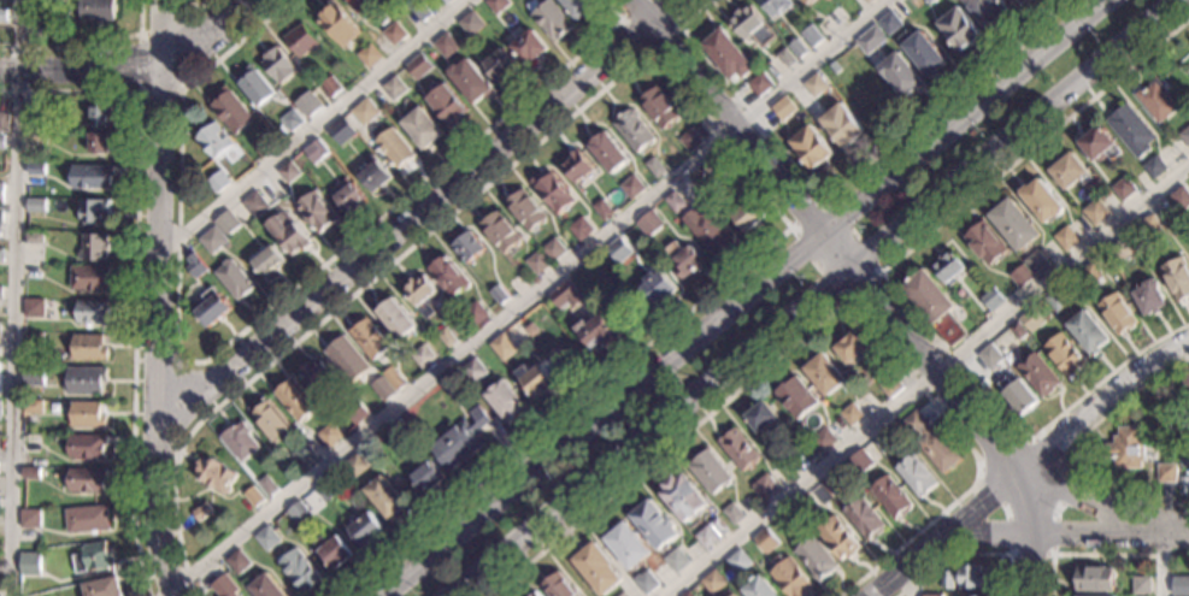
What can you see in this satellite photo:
building: (929, 0)
building: (1012, 0)
building: (446, 1)
building: (806, 1)
building: (869, 1)
building: (496, 5)
building: (773, 5)
building: (365, 6)
building: (578, 6)
road: (199, 7)
building: (96, 10)
building: (987, 10)
building: (36, 11)
building: (420, 11)
building: (2, 14)
building: (836, 17)
building: (549, 18)
building: (889, 22)
building: (339, 23)
building: (471, 23)
building: (959, 28)
building: (755, 30)
building: (393, 33)
building: (811, 35)
building: (300, 40)
building: (870, 40)
building: (445, 45)
road: (87, 46)
building: (529, 46)
building: (797, 48)
building: (852, 52)
building: (923, 52)
road: (646, 53)
building: (369, 55)
building: (728, 55)
building: (787, 58)
building: (277, 65)
building: (418, 65)
building: (499, 66)
road: (133, 69)
road: (659, 69)
road: (181, 70)
building: (901, 73)
building: (470, 81)
building: (760, 83)
building: (814, 84)
building: (254, 87)
building: (331, 87)
building: (394, 88)
building: (1156, 101)
building: (446, 102)
building: (659, 106)
building: (305, 107)
building: (783, 108)
building: (230, 111)
building: (364, 111)
building: (100, 113)
road: (726, 117)
building: (30, 119)
building: (292, 119)
building: (4, 123)
building: (842, 125)
road: (318, 126)
building: (422, 129)
building: (634, 130)
building: (341, 131)
building: (1131, 131)
building: (36, 136)
building: (1185, 136)
building: (213, 140)
building: (690, 140)
building: (1, 141)
building: (99, 143)
building: (261, 144)
building: (1099, 144)
building: (812, 146)
building: (394, 147)
building: (314, 151)
building: (608, 152)
building: (711, 164)
building: (654, 166)
building: (1154, 166)
building: (576, 167)
building: (36, 169)
building: (1070, 171)
building: (288, 172)
building: (372, 172)
building: (92, 176)
building: (217, 182)
building: (631, 187)
road: (838, 189)
building: (1123, 189)
building: (1, 191)
building: (552, 191)
building: (346, 195)
building: (1178, 200)
building: (257, 201)
building: (673, 201)
building: (1042, 201)
building: (35, 205)
road: (418, 208)
building: (525, 210)
building: (602, 210)
building: (93, 211)
building: (316, 212)
building: (1096, 212)
building: (749, 214)
building: (1, 217)
building: (226, 223)
building: (648, 223)
building: (1014, 224)
building: (1150, 226)
building: (579, 228)
building: (706, 231)
building: (500, 232)
building: (288, 234)
building: (34, 237)
building: (1066, 238)
building: (212, 240)
building: (985, 243)
building: (94, 247)
building: (469, 247)
building: (552, 249)
building: (617, 249)
building: (1119, 249)
building: (1, 255)
building: (1022, 256)
building: (683, 259)
building: (267, 262)
building: (537, 262)
building: (1036, 262)
building: (195, 265)
building: (949, 267)
building: (1091, 273)
road: (135, 276)
building: (448, 276)
building: (1020, 276)
building: (1178, 277)
building: (89, 278)
building: (232, 278)
road: (884, 282)
building: (657, 287)
building: (1, 293)
building: (420, 295)
building: (498, 295)
road: (810, 295)
building: (563, 296)
road: (13, 297)
road: (526, 297)
building: (1149, 297)
road: (158, 299)
building: (1058, 299)
road: (747, 300)
road: (844, 300)
building: (991, 300)
building: (934, 306)
building: (34, 307)
building: (212, 307)
building: (92, 312)
building: (473, 313)
building: (1118, 313)
building: (395, 318)
road: (822, 319)
building: (1031, 319)
road: (253, 323)
building: (530, 330)
building: (1018, 330)
building: (0, 332)
building: (596, 332)
building: (1088, 332)
building: (446, 337)
building: (34, 338)
building: (369, 338)
building: (89, 347)
building: (502, 347)
building: (852, 347)
road: (928, 352)
building: (1065, 355)
building: (422, 356)
building: (989, 356)
building: (347, 359)
road: (157, 364)
building: (473, 370)
building: (317, 373)
building: (824, 373)
building: (33, 374)
building: (1038, 374)
building: (1184, 377)
building: (394, 378)
building: (86, 379)
building: (536, 380)
road: (926, 382)
building: (890, 386)
building: (0, 389)
building: (382, 389)
building: (1018, 395)
building: (794, 397)
road: (1102, 399)
building: (295, 400)
building: (505, 401)
building: (31, 406)
building: (54, 408)
building: (0, 409)
building: (357, 412)
building: (88, 414)
building: (850, 414)
building: (760, 415)
building: (270, 420)
building: (1185, 423)
building: (399, 427)
building: (329, 435)
building: (823, 439)
building: (239, 441)
building: (459, 441)
building: (931, 442)
building: (31, 443)
building: (881, 444)
road: (1075, 444)
building: (87, 447)
building: (1159, 447)
building: (1126, 448)
building: (737, 449)
building: (808, 452)
building: (304, 455)
building: (1184, 461)
building: (859, 462)
building: (355, 465)
building: (708, 471)
building: (30, 473)
building: (1166, 473)
building: (1187, 473)
building: (214, 474)
building: (916, 474)
building: (426, 476)
road: (1073, 476)
building: (86, 479)
road: (1052, 480)
building: (831, 484)
building: (267, 485)
building: (1183, 485)
building: (764, 486)
building: (324, 489)
building: (253, 496)
building: (384, 496)
building: (682, 497)
building: (890, 497)
building: (805, 504)
road: (1005, 509)
building: (201, 512)
building: (298, 513)
building: (734, 513)
building: (864, 518)
building: (29, 519)
building: (87, 519)
building: (790, 519)
building: (654, 525)
building: (365, 529)
road: (1034, 532)
building: (711, 533)
building: (837, 537)
building: (266, 538)
building: (765, 541)
road: (1017, 542)
building: (625, 544)
building: (334, 551)
road: (966, 554)
road: (1099, 554)
building: (93, 557)
building: (816, 559)
building: (676, 560)
building: (737, 561)
building: (237, 562)
building: (29, 563)
building: (596, 568)
road: (1162, 568)
building: (300, 571)
building: (789, 577)
building: (965, 577)
building: (1094, 579)
road: (908, 580)
building: (644, 582)
building: (712, 582)
building: (224, 586)
building: (558, 586)
building: (1141, 586)
building: (1181, 586)
building: (102, 588)
building: (265, 588)
building: (759, 588)
building: (535, 594)
building: (622, 594)
building: (687, 594)
building: (732, 595)
building: (931, 595)
building: (970, 595)
building: (1090, 595)
building: (1150, 595)

